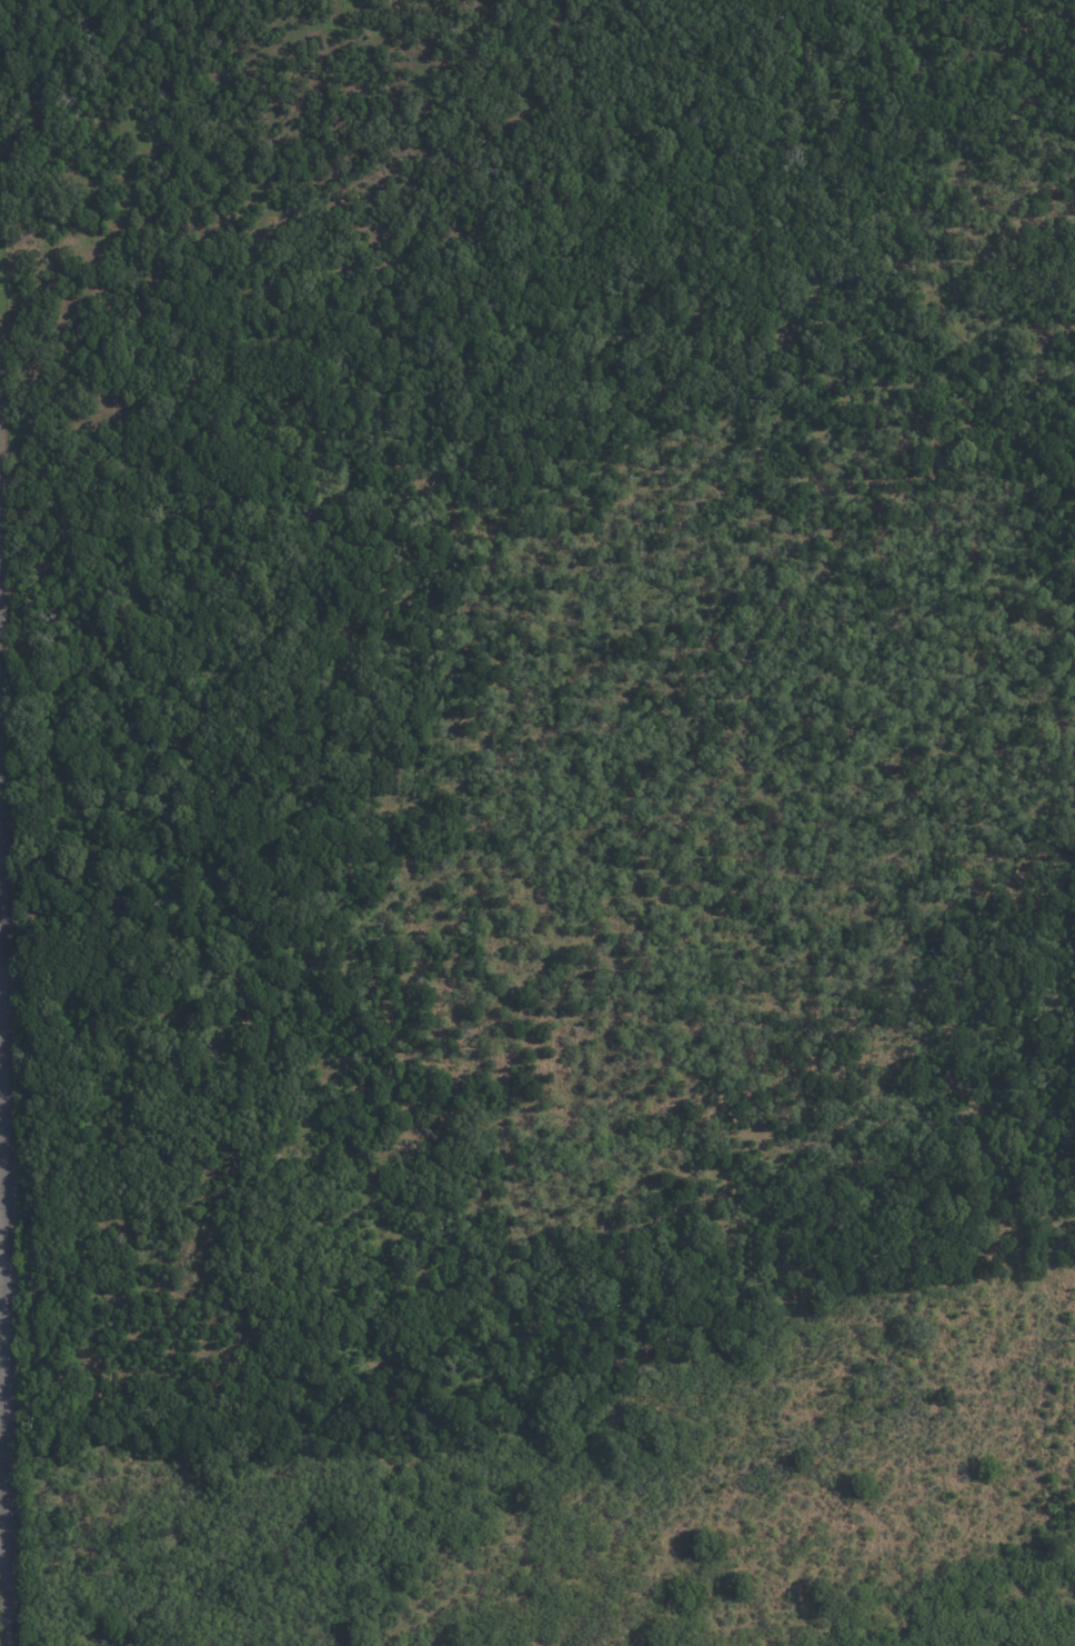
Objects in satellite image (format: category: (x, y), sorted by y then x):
road: (4, 1336)
road: (4, 1552)

